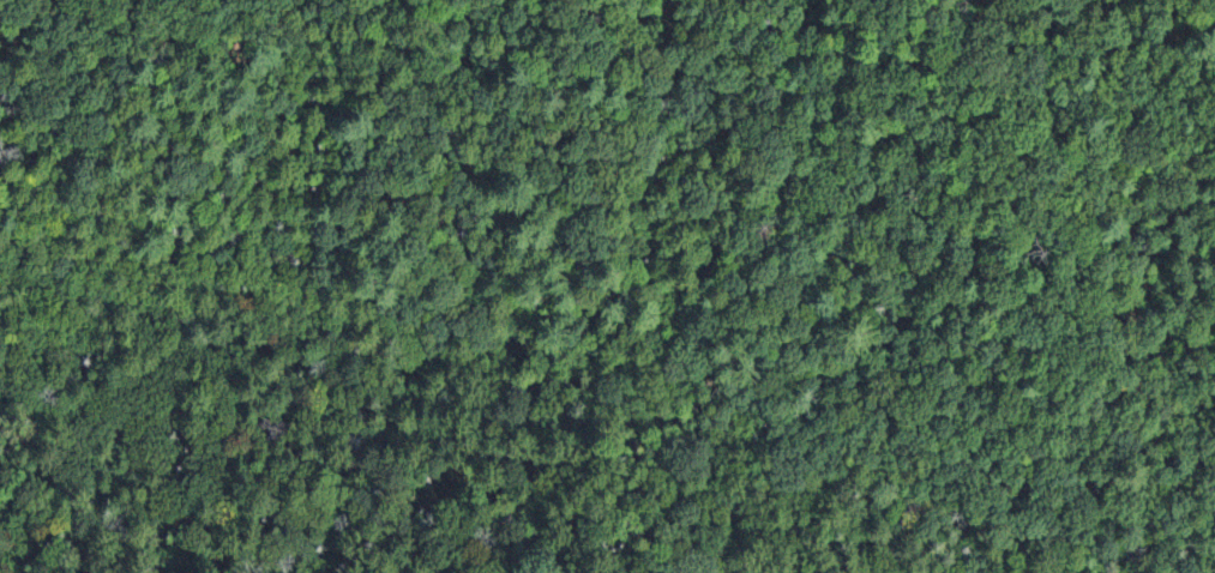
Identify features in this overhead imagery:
road: (1196, 569)

